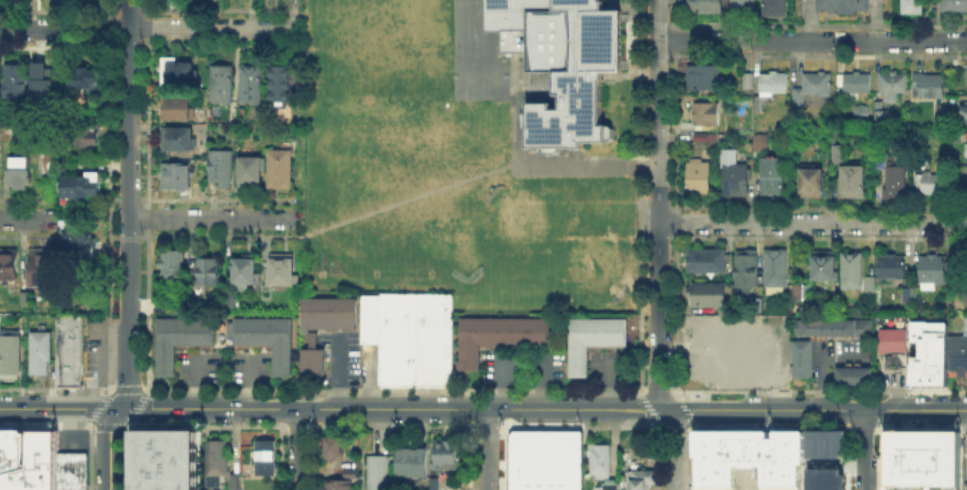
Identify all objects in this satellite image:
building: (844, 6)
building: (955, 6)
building: (707, 7)
building: (745, 7)
building: (777, 8)
building: (914, 8)
road: (146, 28)
road: (812, 40)
building: (561, 63)
building: (182, 74)
building: (86, 76)
building: (966, 77)
building: (705, 78)
building: (42, 79)
building: (750, 81)
building: (278, 82)
building: (18, 83)
building: (858, 84)
building: (252, 85)
building: (776, 85)
building: (224, 86)
building: (895, 86)
building: (813, 87)
building: (930, 87)
building: (759, 104)
building: (177, 110)
building: (963, 110)
building: (707, 112)
building: (882, 120)
building: (939, 120)
building: (8, 130)
road: (513, 134)
building: (89, 136)
building: (703, 136)
building: (957, 138)
building: (180, 140)
building: (762, 144)
building: (966, 148)
building: (278, 167)
building: (222, 169)
building: (49, 170)
building: (251, 170)
building: (20, 174)
building: (179, 176)
building: (897, 177)
building: (699, 178)
building: (773, 178)
building: (735, 179)
building: (812, 180)
building: (854, 181)
building: (930, 185)
building: (83, 186)
road: (407, 199)
road: (127, 205)
road: (658, 205)
park: (519, 214)
road: (25, 219)
road: (207, 220)
road: (812, 222)
park: (357, 228)
road: (214, 235)
building: (75, 239)
park: (455, 243)
building: (703, 259)
building: (7, 263)
building: (821, 264)
building: (889, 265)
building: (42, 266)
building: (173, 267)
park: (591, 268)
building: (743, 268)
building: (772, 268)
building: (849, 268)
building: (930, 269)
building: (280, 270)
building: (246, 272)
building: (208, 273)
building: (952, 274)
building: (869, 282)
building: (799, 290)
building: (704, 291)
building: (964, 292)
building: (905, 293)
building: (913, 293)
building: (23, 296)
building: (232, 301)
building: (327, 312)
building: (876, 317)
building: (884, 318)
building: (964, 323)
building: (831, 326)
building: (68, 327)
building: (700, 327)
building: (495, 335)
building: (408, 336)
building: (179, 337)
building: (264, 337)
building: (590, 338)
building: (892, 339)
building: (735, 345)
parking lot: (93, 348)
building: (39, 351)
building: (9, 352)
building: (928, 352)
building: (957, 353)
building: (311, 357)
building: (800, 357)
road: (818, 359)
building: (894, 360)
building: (765, 361)
building: (68, 363)
building: (702, 365)
road: (336, 373)
building: (852, 375)
road: (605, 381)
road: (195, 382)
road: (249, 382)
road: (502, 382)
road: (542, 383)
road: (145, 390)
road: (311, 390)
road: (648, 390)
road: (643, 399)
road: (58, 408)
traffic signals: (118, 408)
road: (573, 408)
road: (636, 408)
traffic signals: (639, 408)
road: (302, 409)
road: (495, 409)
road: (522, 409)
traffic signals: (692, 409)
road: (767, 409)
road: (916, 410)
building: (142, 441)
building: (824, 443)
building: (330, 444)
road: (109, 447)
road: (676, 448)
road: (298, 449)
road: (486, 449)
road: (866, 450)
building: (443, 452)
building: (966, 452)
building: (263, 456)
building: (598, 458)
building: (7, 459)
building: (35, 459)
building: (175, 459)
building: (214, 459)
building: (544, 459)
building: (402, 460)
building: (417, 460)
building: (921, 460)
building: (750, 461)
building: (142, 467)
building: (71, 470)
building: (348, 471)
building: (376, 472)
building: (640, 478)
building: (824, 479)
building: (233, 481)
building: (335, 484)
building: (606, 484)
building: (142, 485)

